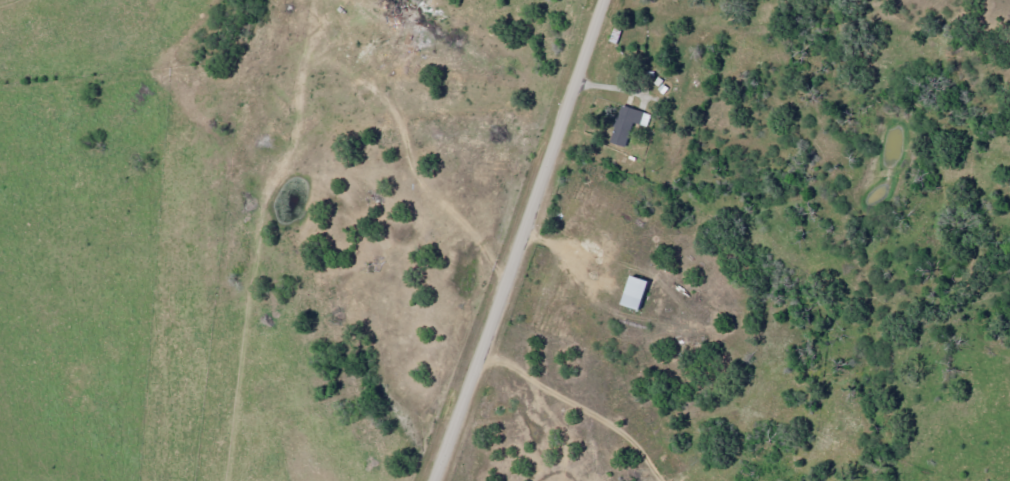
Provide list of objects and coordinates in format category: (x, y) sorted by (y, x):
building: (625, 123)
road: (523, 241)
building: (632, 293)

